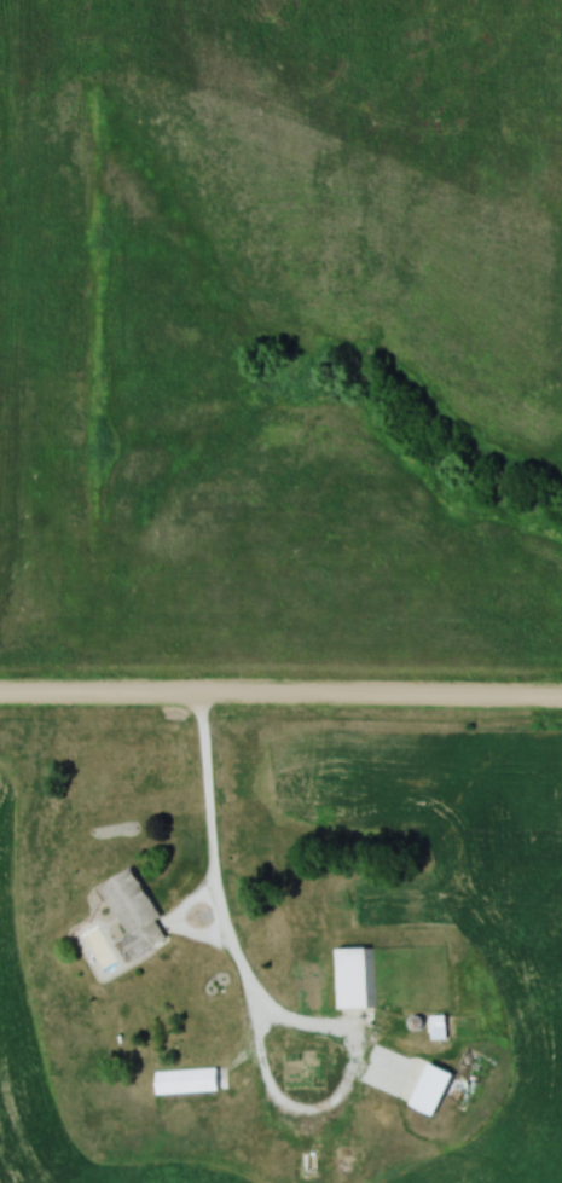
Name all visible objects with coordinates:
road: (280, 704)
crop: (453, 891)
road: (220, 904)
building: (138, 912)
crop: (12, 939)
building: (355, 979)
building: (191, 1081)

